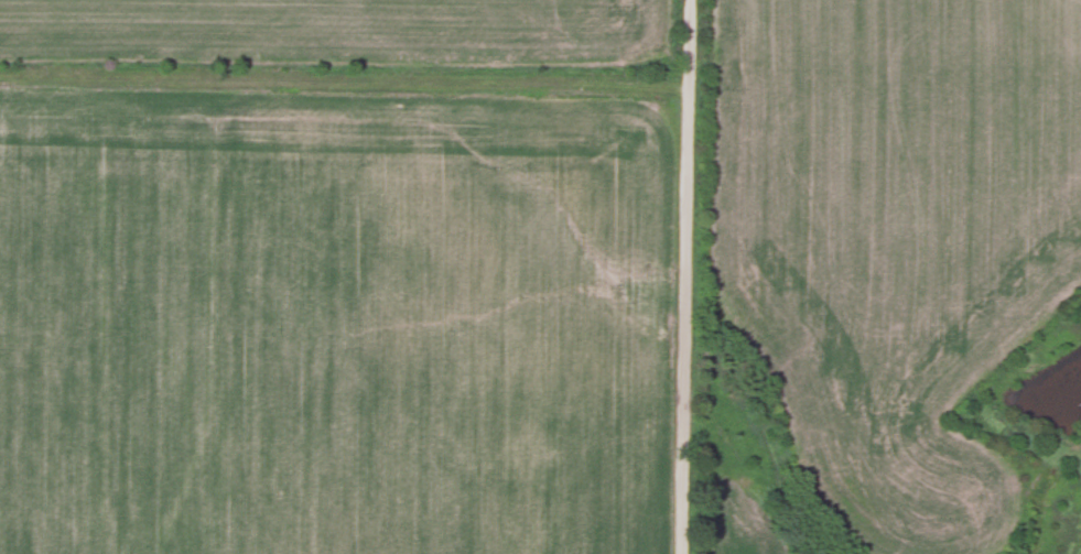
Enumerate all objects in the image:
road: (345, 83)
road: (688, 276)

